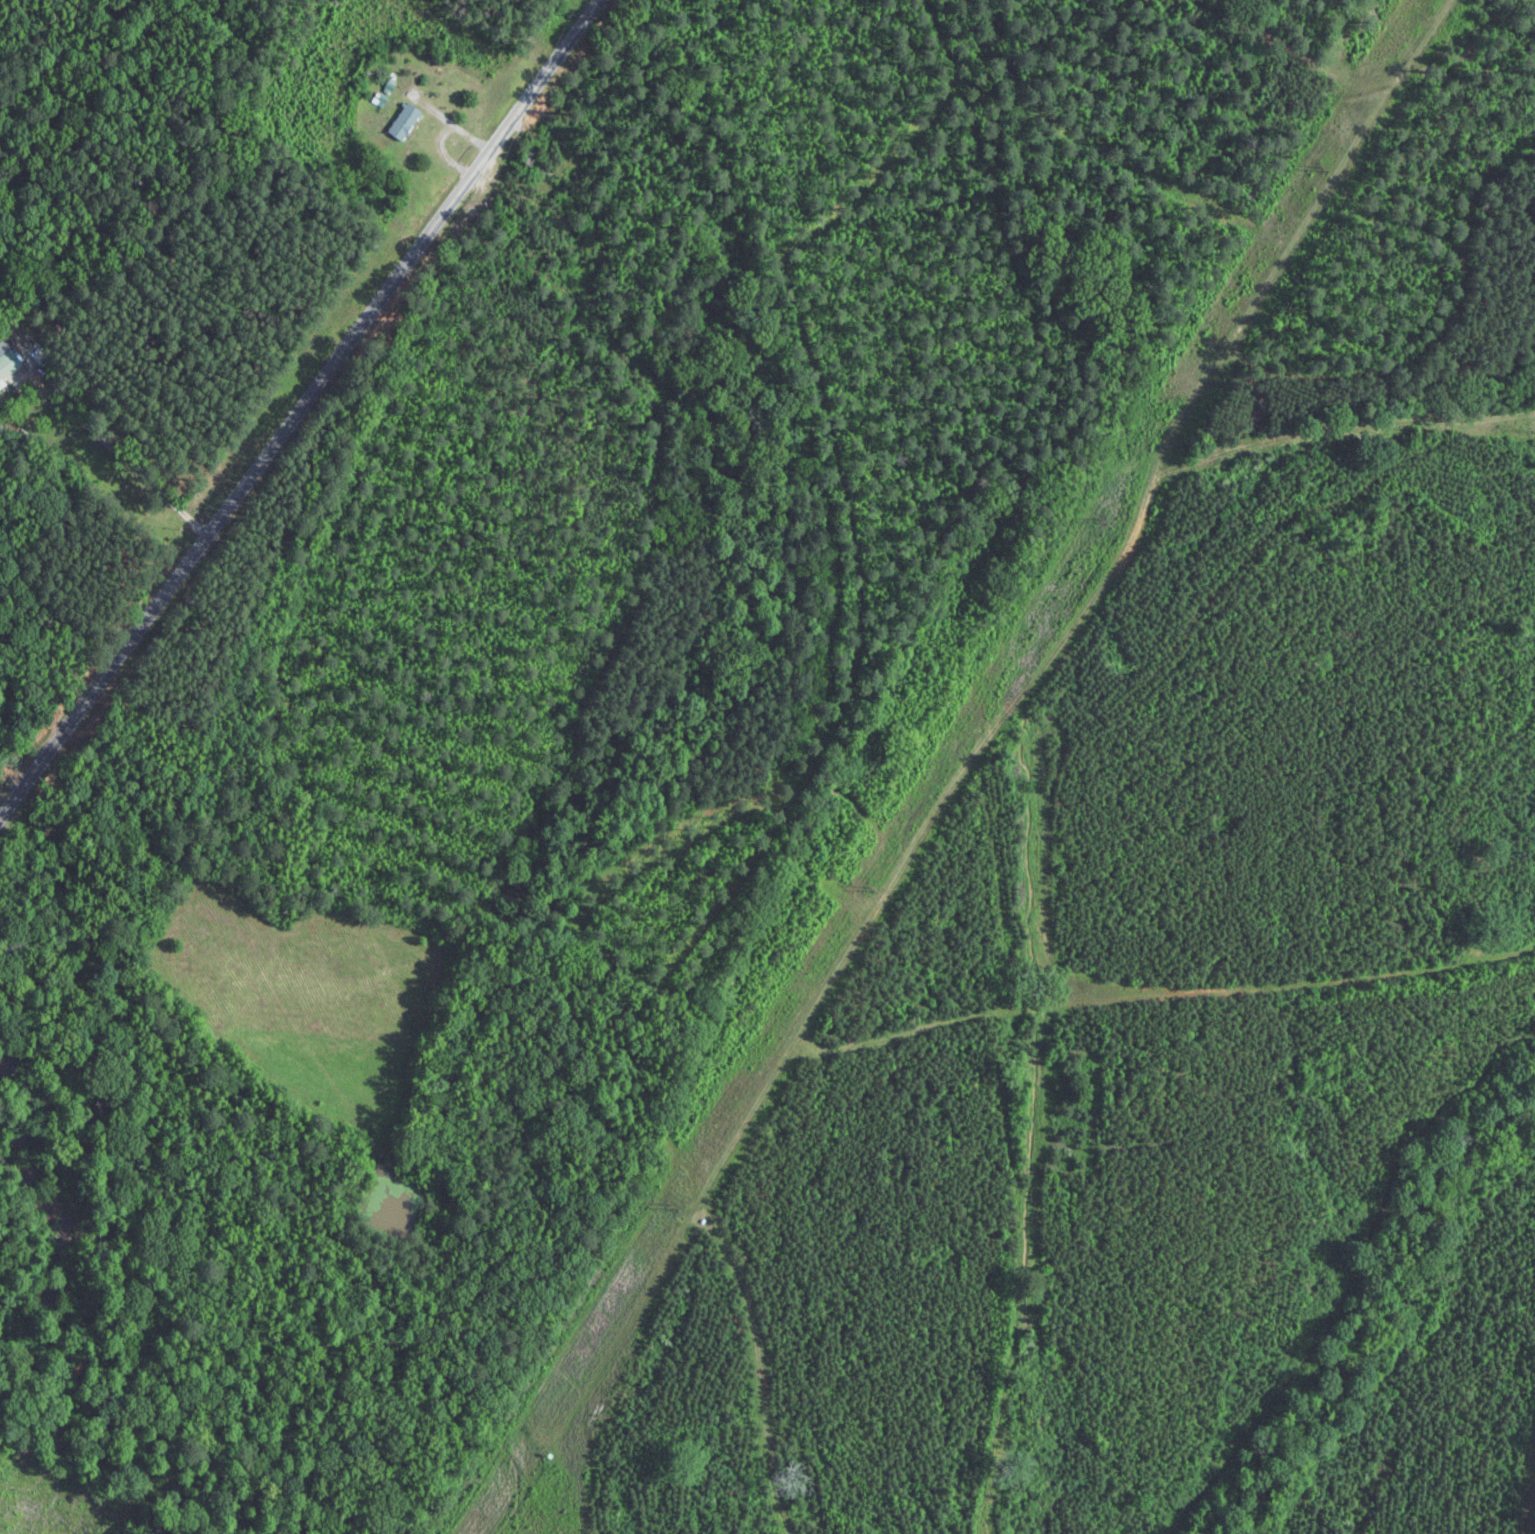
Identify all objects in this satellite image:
building: (407, 123)
building: (2, 375)
road: (294, 396)

